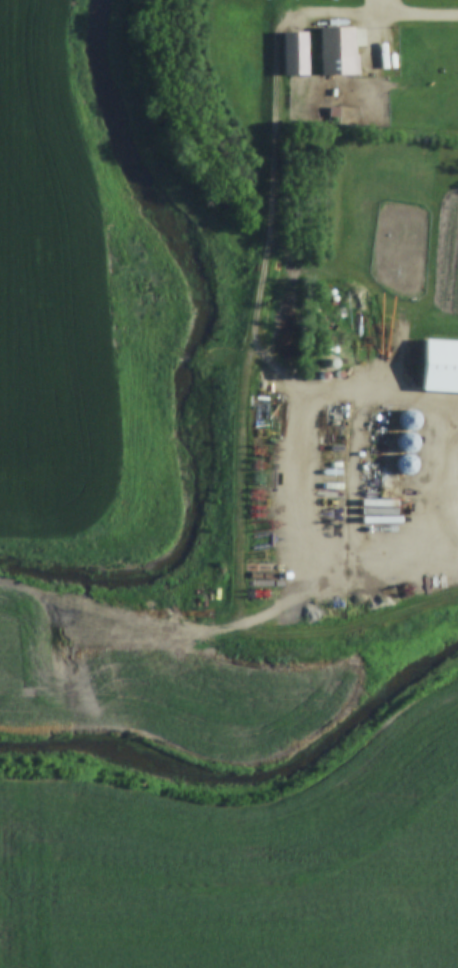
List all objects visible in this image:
road: (394, 15)
building: (340, 52)
building: (298, 54)
building: (439, 366)
building: (408, 420)
silo: (408, 420)
building: (406, 442)
silo: (406, 442)
building: (405, 465)
silo: (405, 465)

